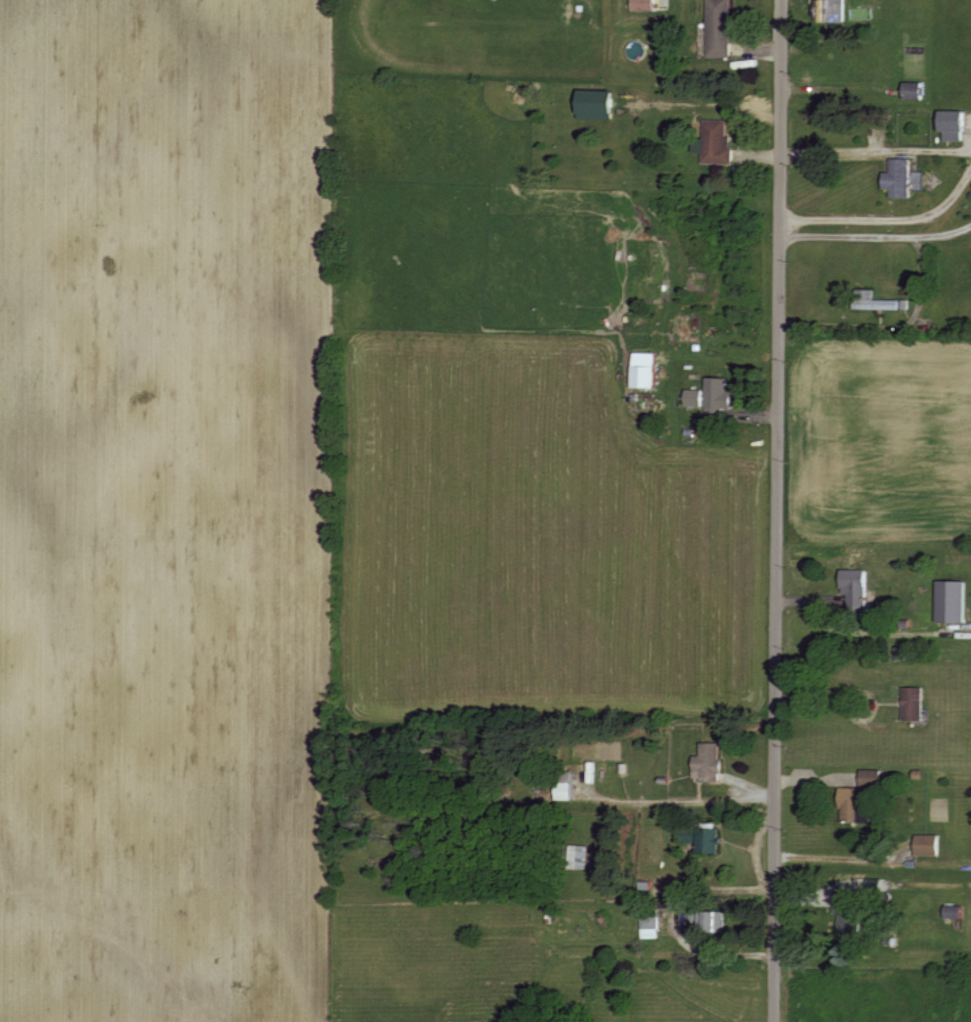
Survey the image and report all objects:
building: (648, 5)
building: (833, 11)
building: (724, 29)
building: (917, 91)
building: (600, 105)
building: (957, 125)
building: (720, 143)
road: (876, 152)
building: (905, 179)
road: (886, 220)
road: (876, 238)
building: (879, 303)
road: (889, 328)
building: (649, 370)
building: (698, 398)
building: (721, 398)
road: (779, 510)
building: (859, 587)
building: (955, 601)
road: (857, 690)
building: (916, 703)
building: (712, 762)
building: (569, 792)
building: (861, 796)
building: (713, 840)
building: (931, 844)
road: (835, 859)
building: (853, 912)
building: (712, 921)
building: (653, 927)

